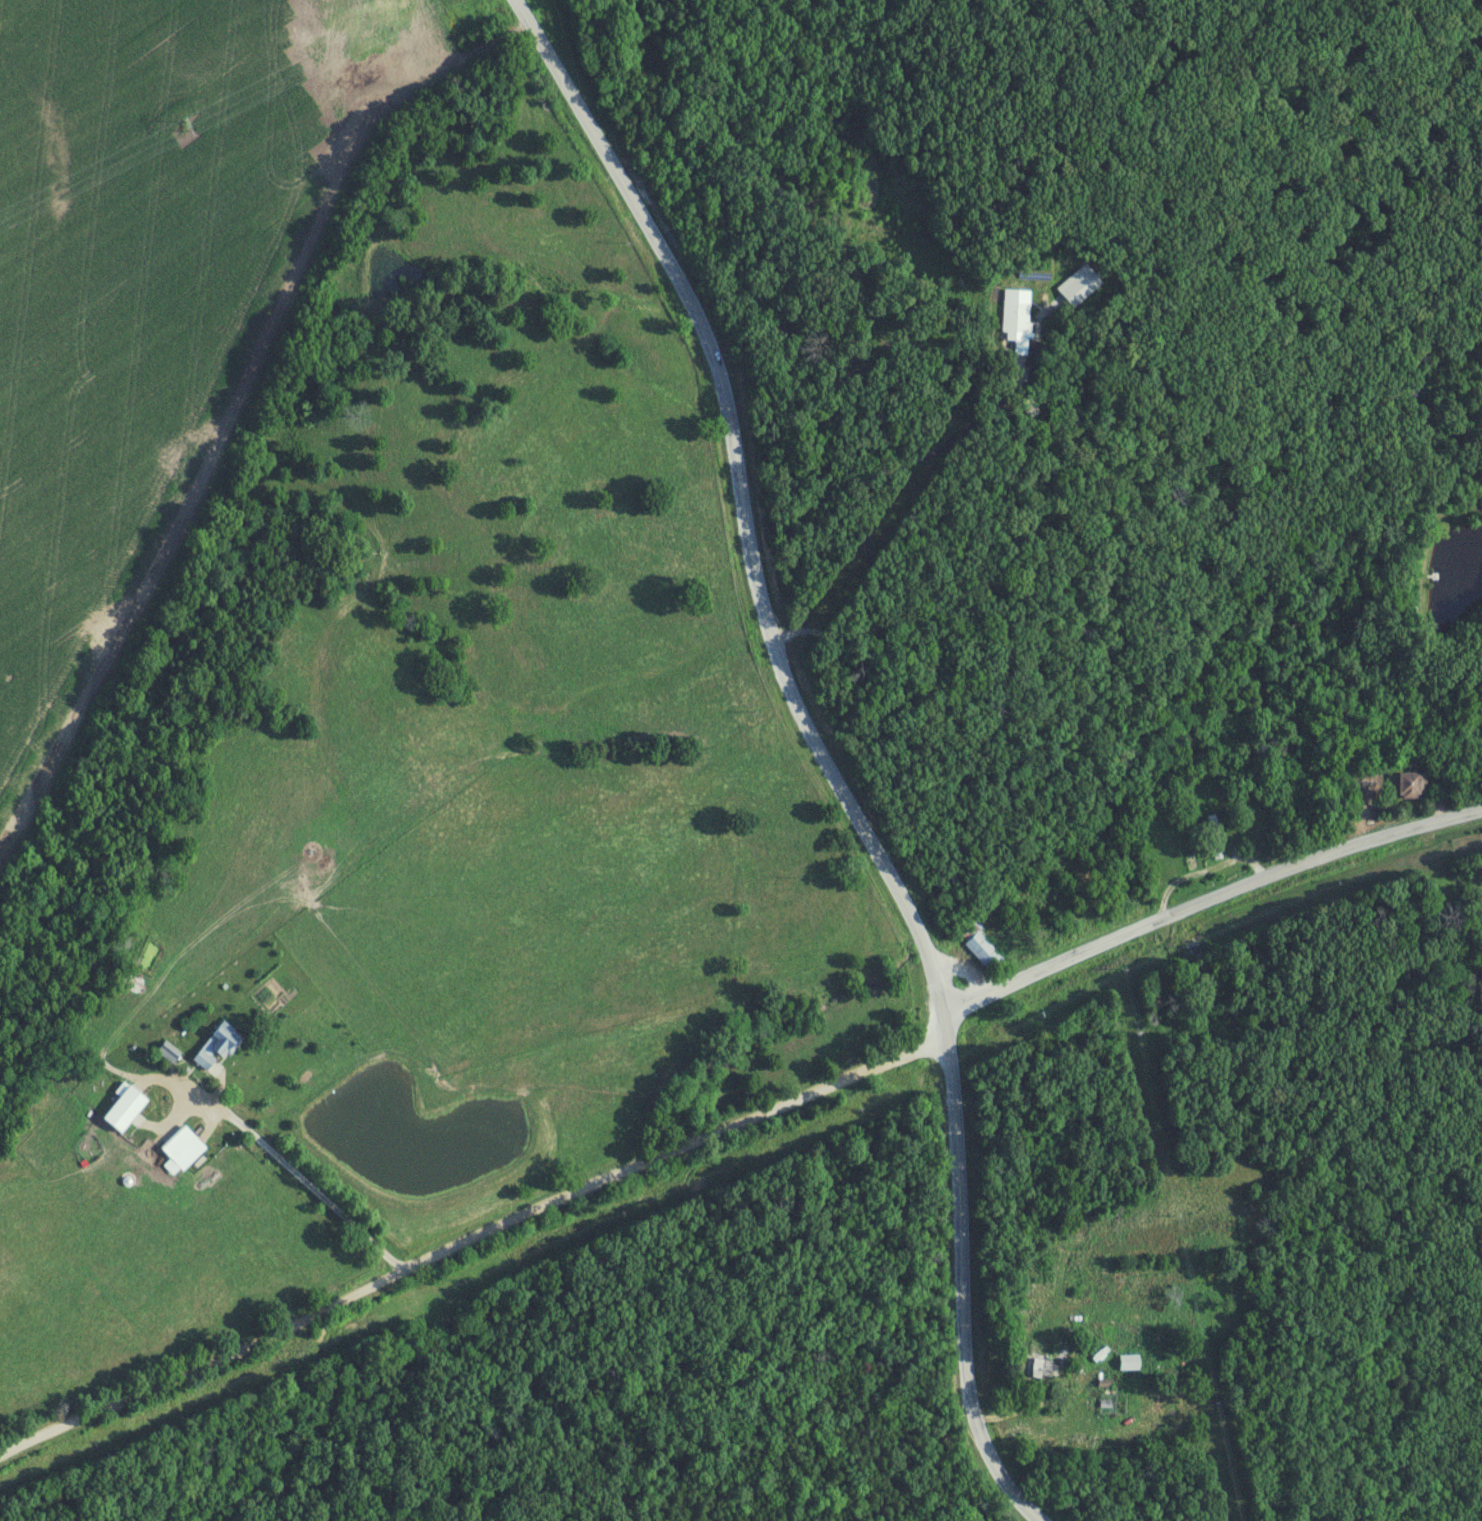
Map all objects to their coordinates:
power tower: (184, 128)
building: (1081, 287)
building: (1018, 319)
road: (899, 485)
road: (822, 750)
building: (1413, 785)
building: (1364, 800)
building: (1215, 838)
road: (1211, 906)
building: (1114, 907)
building: (981, 949)
building: (218, 1048)
building: (126, 1110)
road: (141, 1113)
building: (184, 1148)
road: (307, 1178)
road: (474, 1244)
building: (1131, 1363)
building: (1041, 1370)

